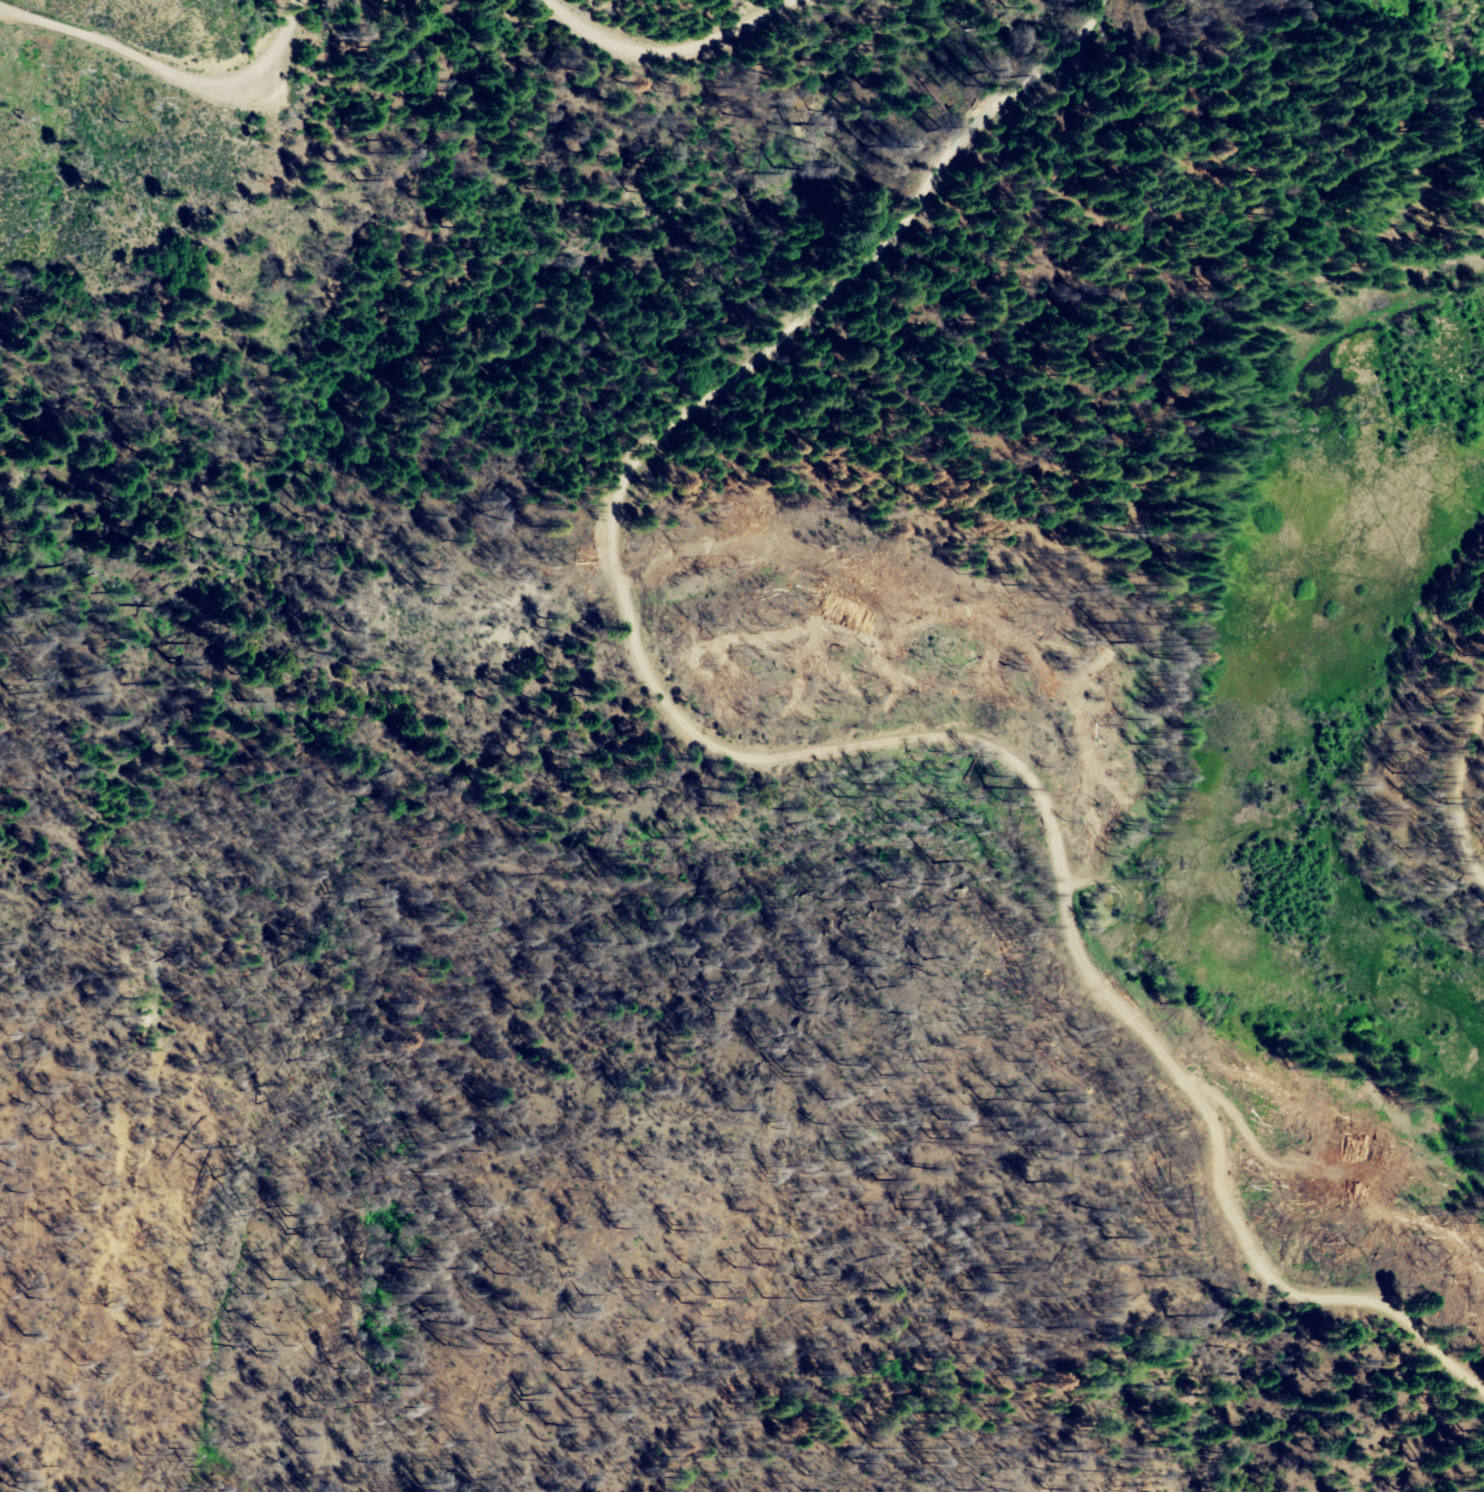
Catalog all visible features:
road: (665, 49)
road: (173, 73)
road: (805, 742)
road: (1466, 804)

